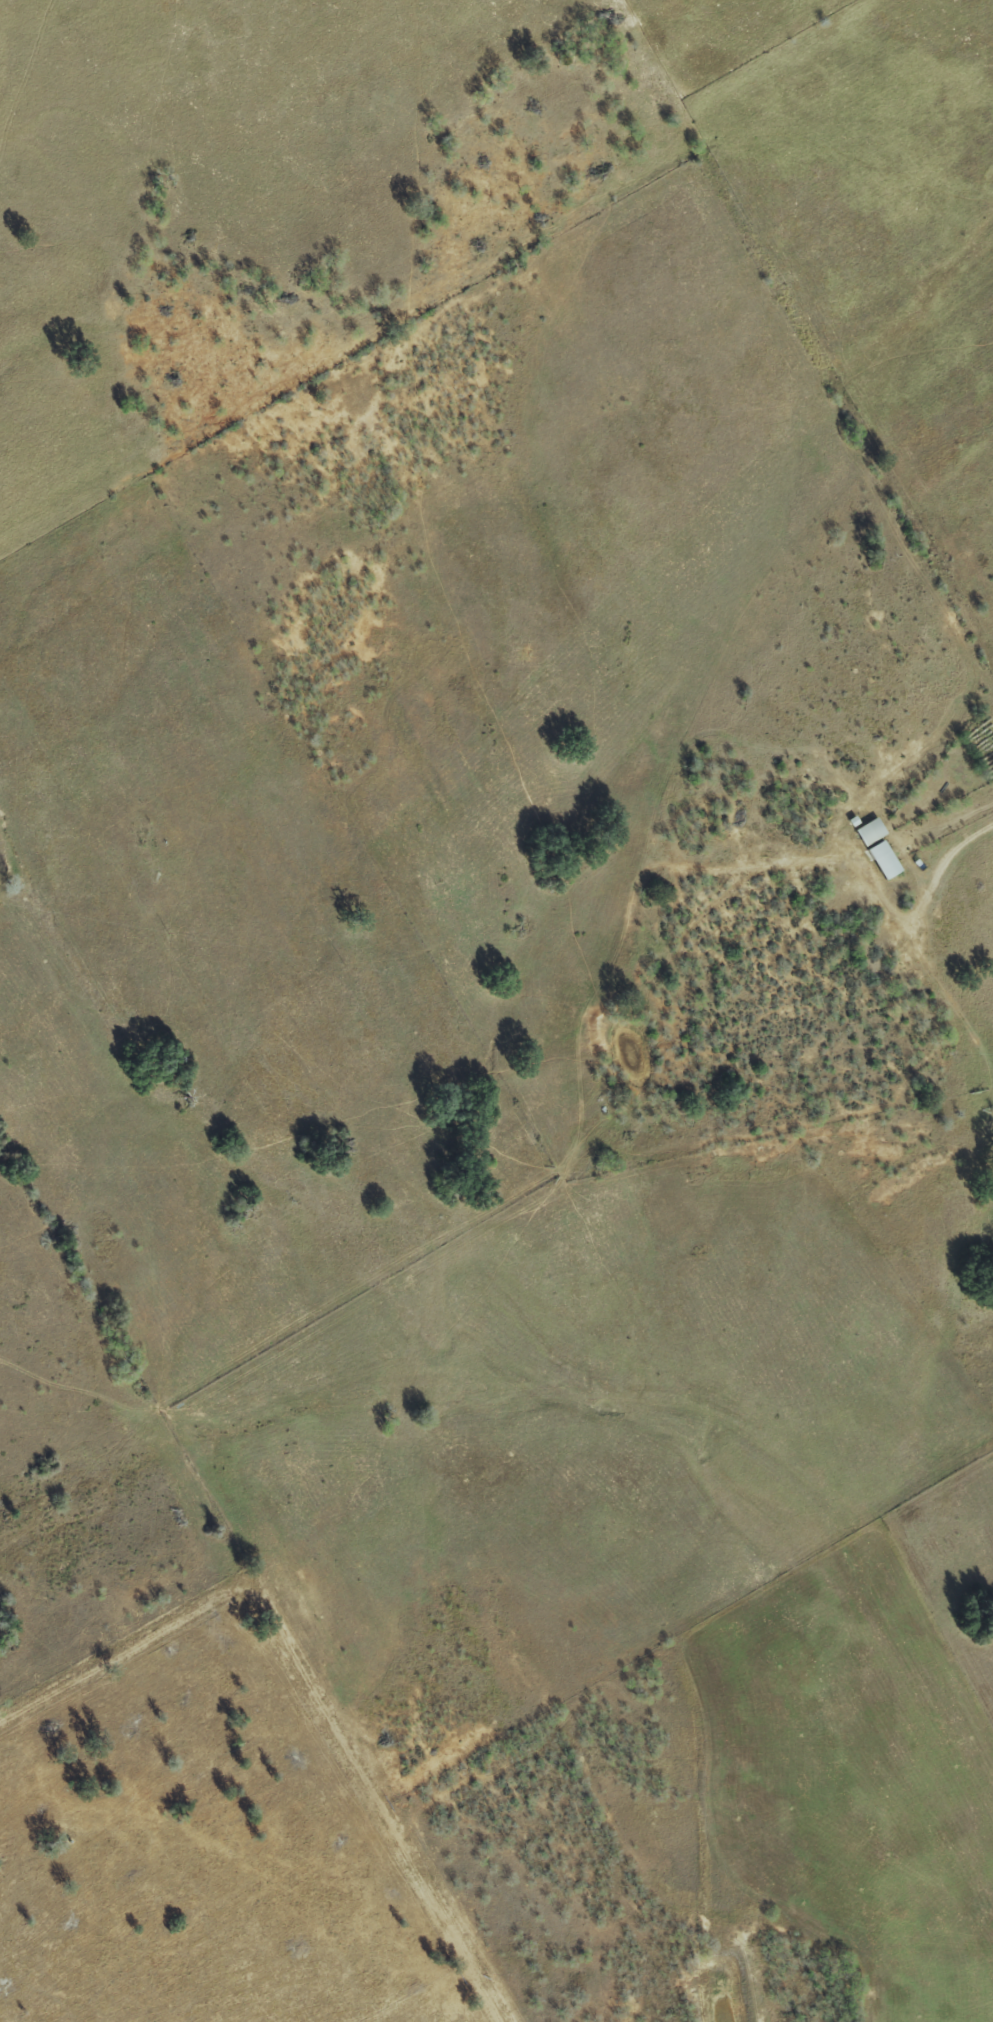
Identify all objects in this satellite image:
road: (949, 847)

